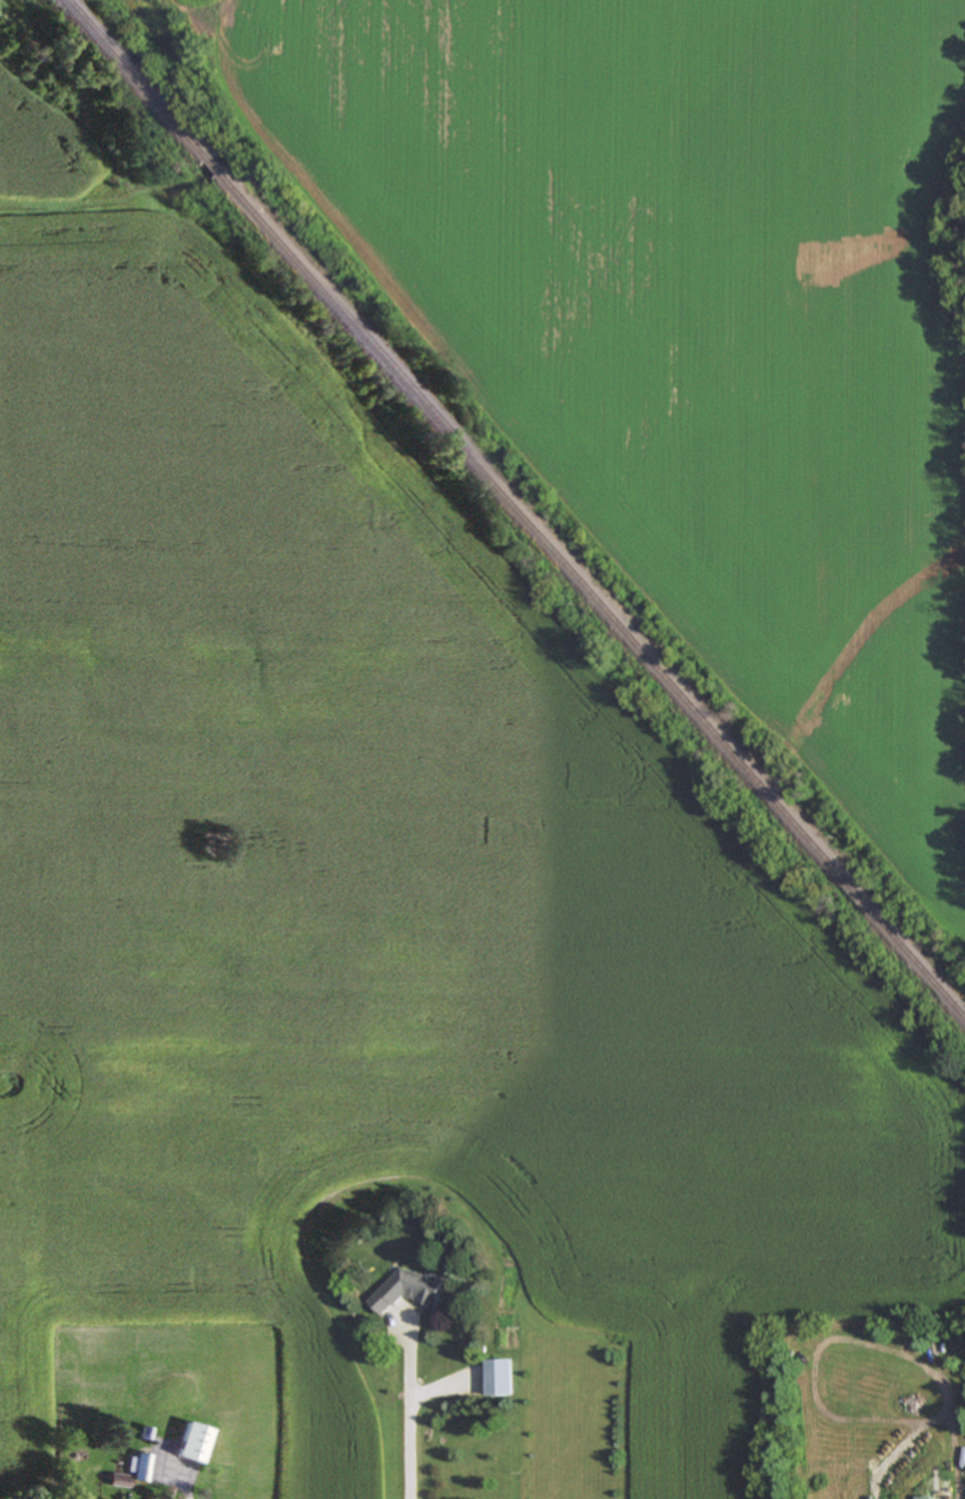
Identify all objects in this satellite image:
railway: (135, 80)
railway: (213, 168)
railway: (592, 596)
building: (405, 1290)
building: (498, 1376)
road: (408, 1419)

